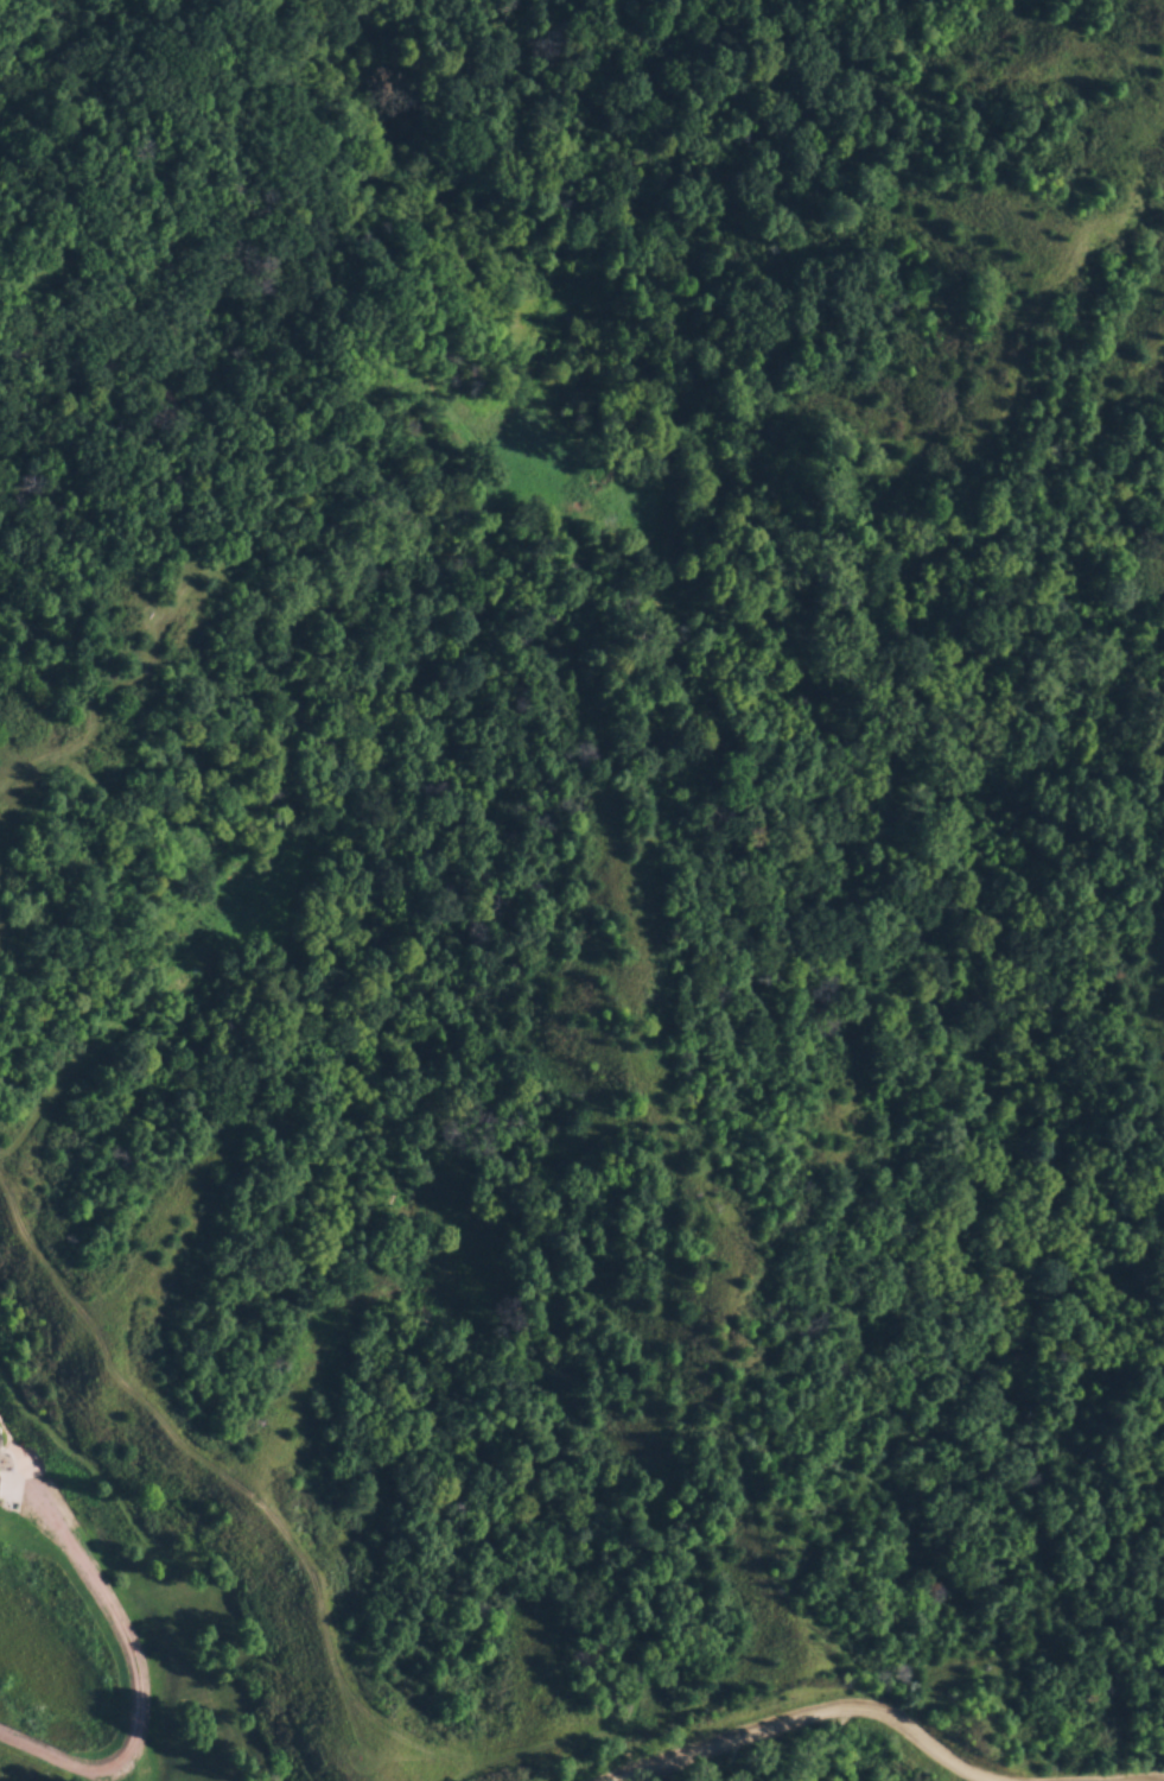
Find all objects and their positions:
road: (136, 1684)
road: (801, 1715)
road: (662, 1768)

